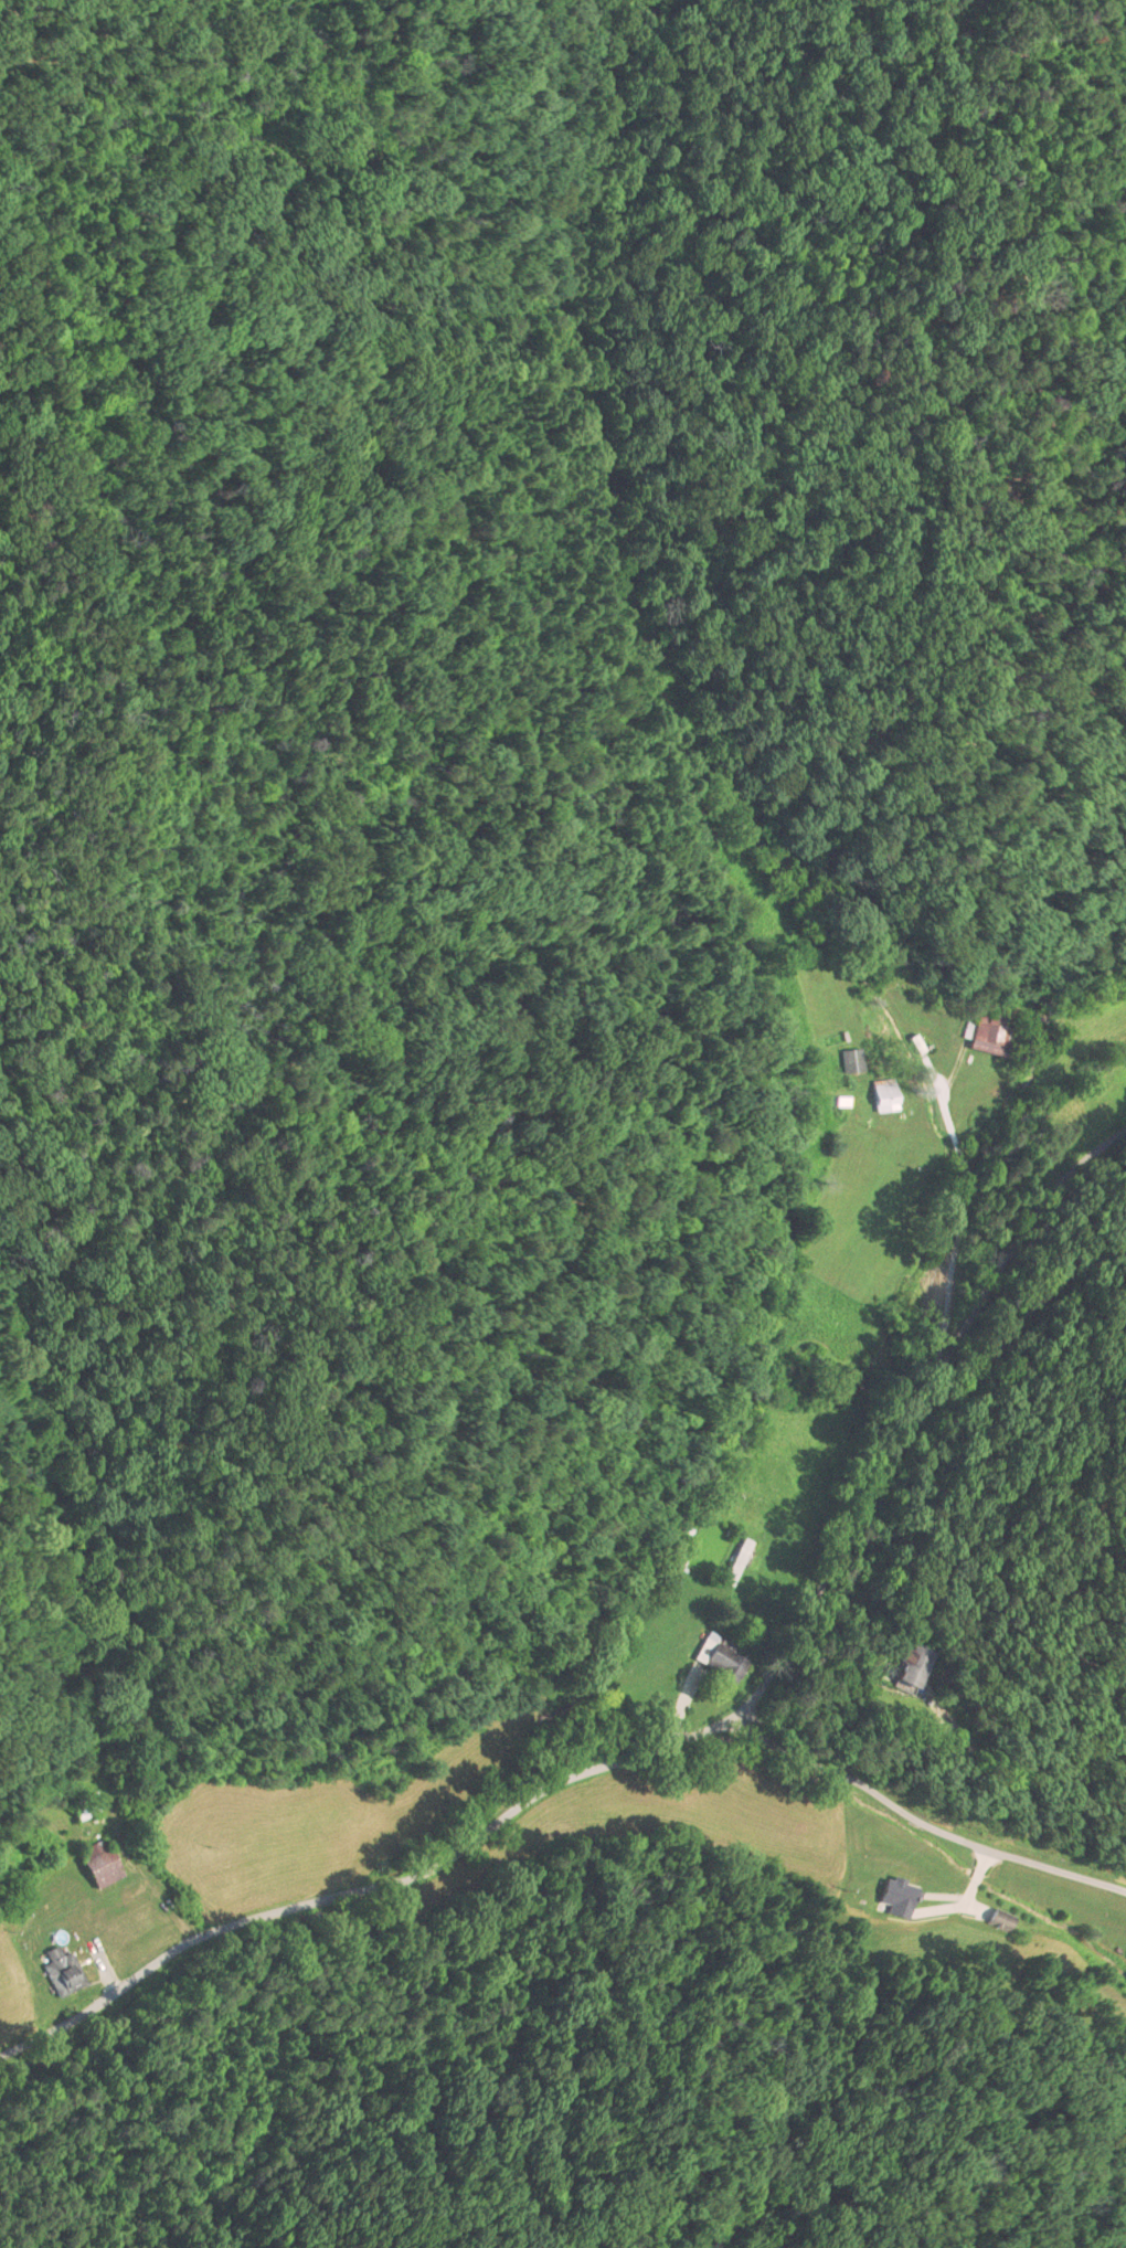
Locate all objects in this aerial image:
building: (987, 1033)
building: (850, 1059)
building: (883, 1094)
building: (735, 1560)
building: (713, 1651)
building: (909, 1666)
road: (694, 1739)
building: (82, 1806)
road: (923, 1822)
building: (97, 1863)
building: (896, 1895)
building: (61, 1971)

